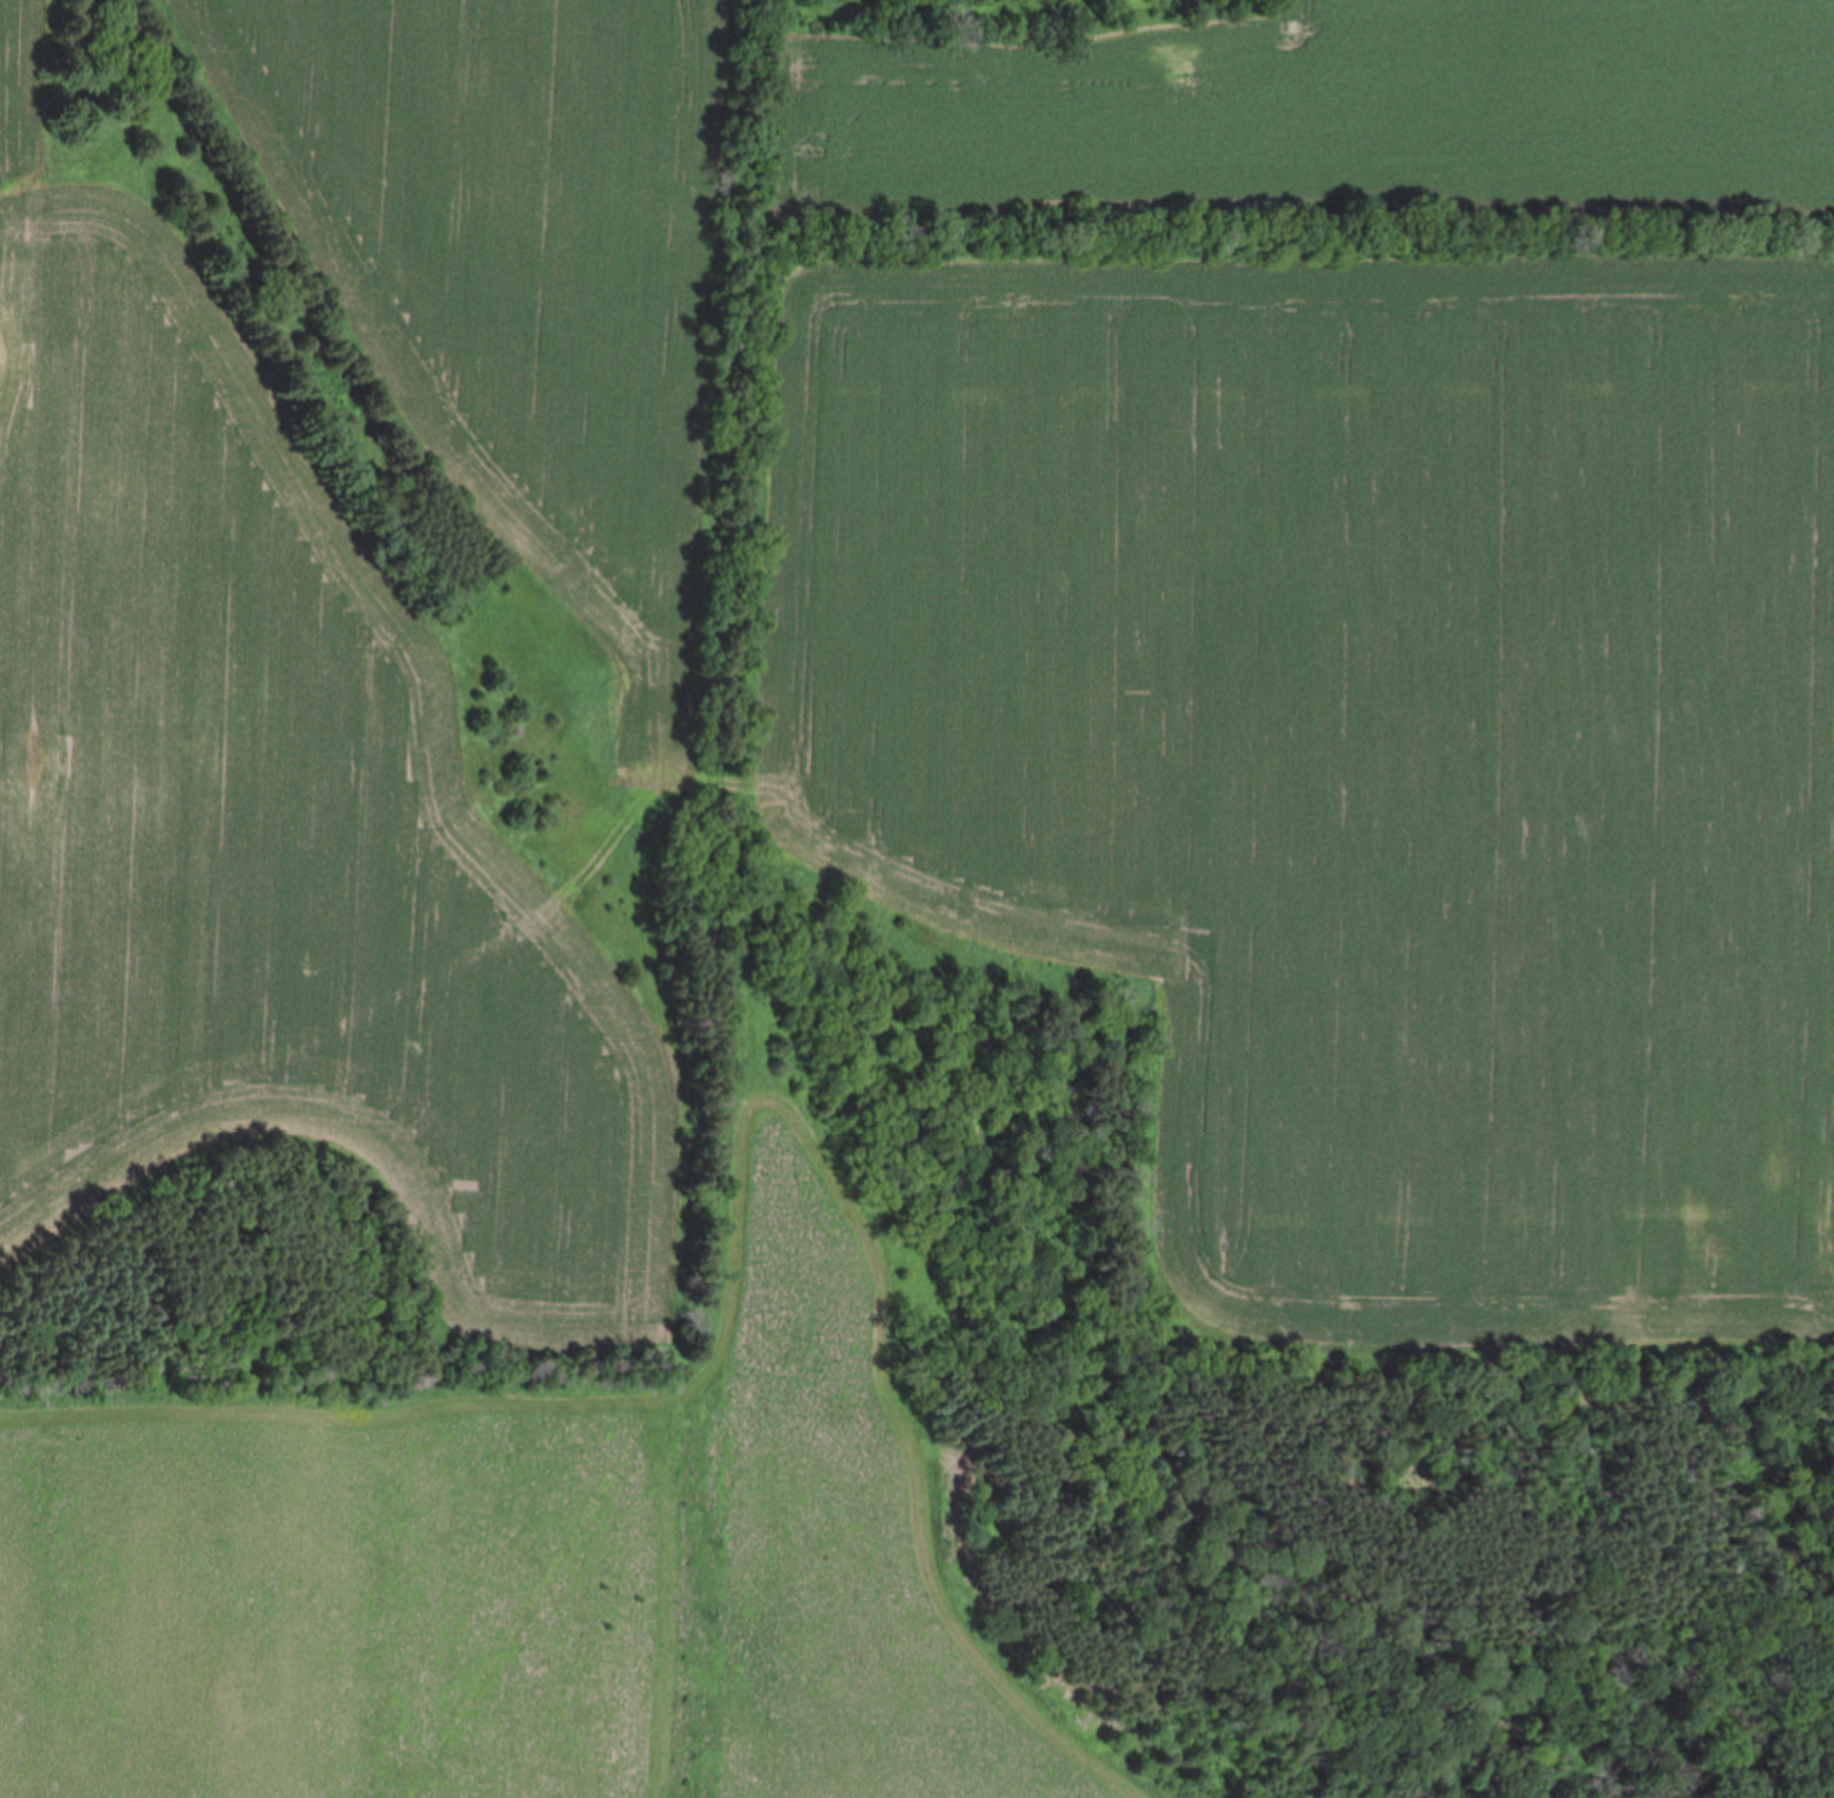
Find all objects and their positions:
park: (916, 898)

